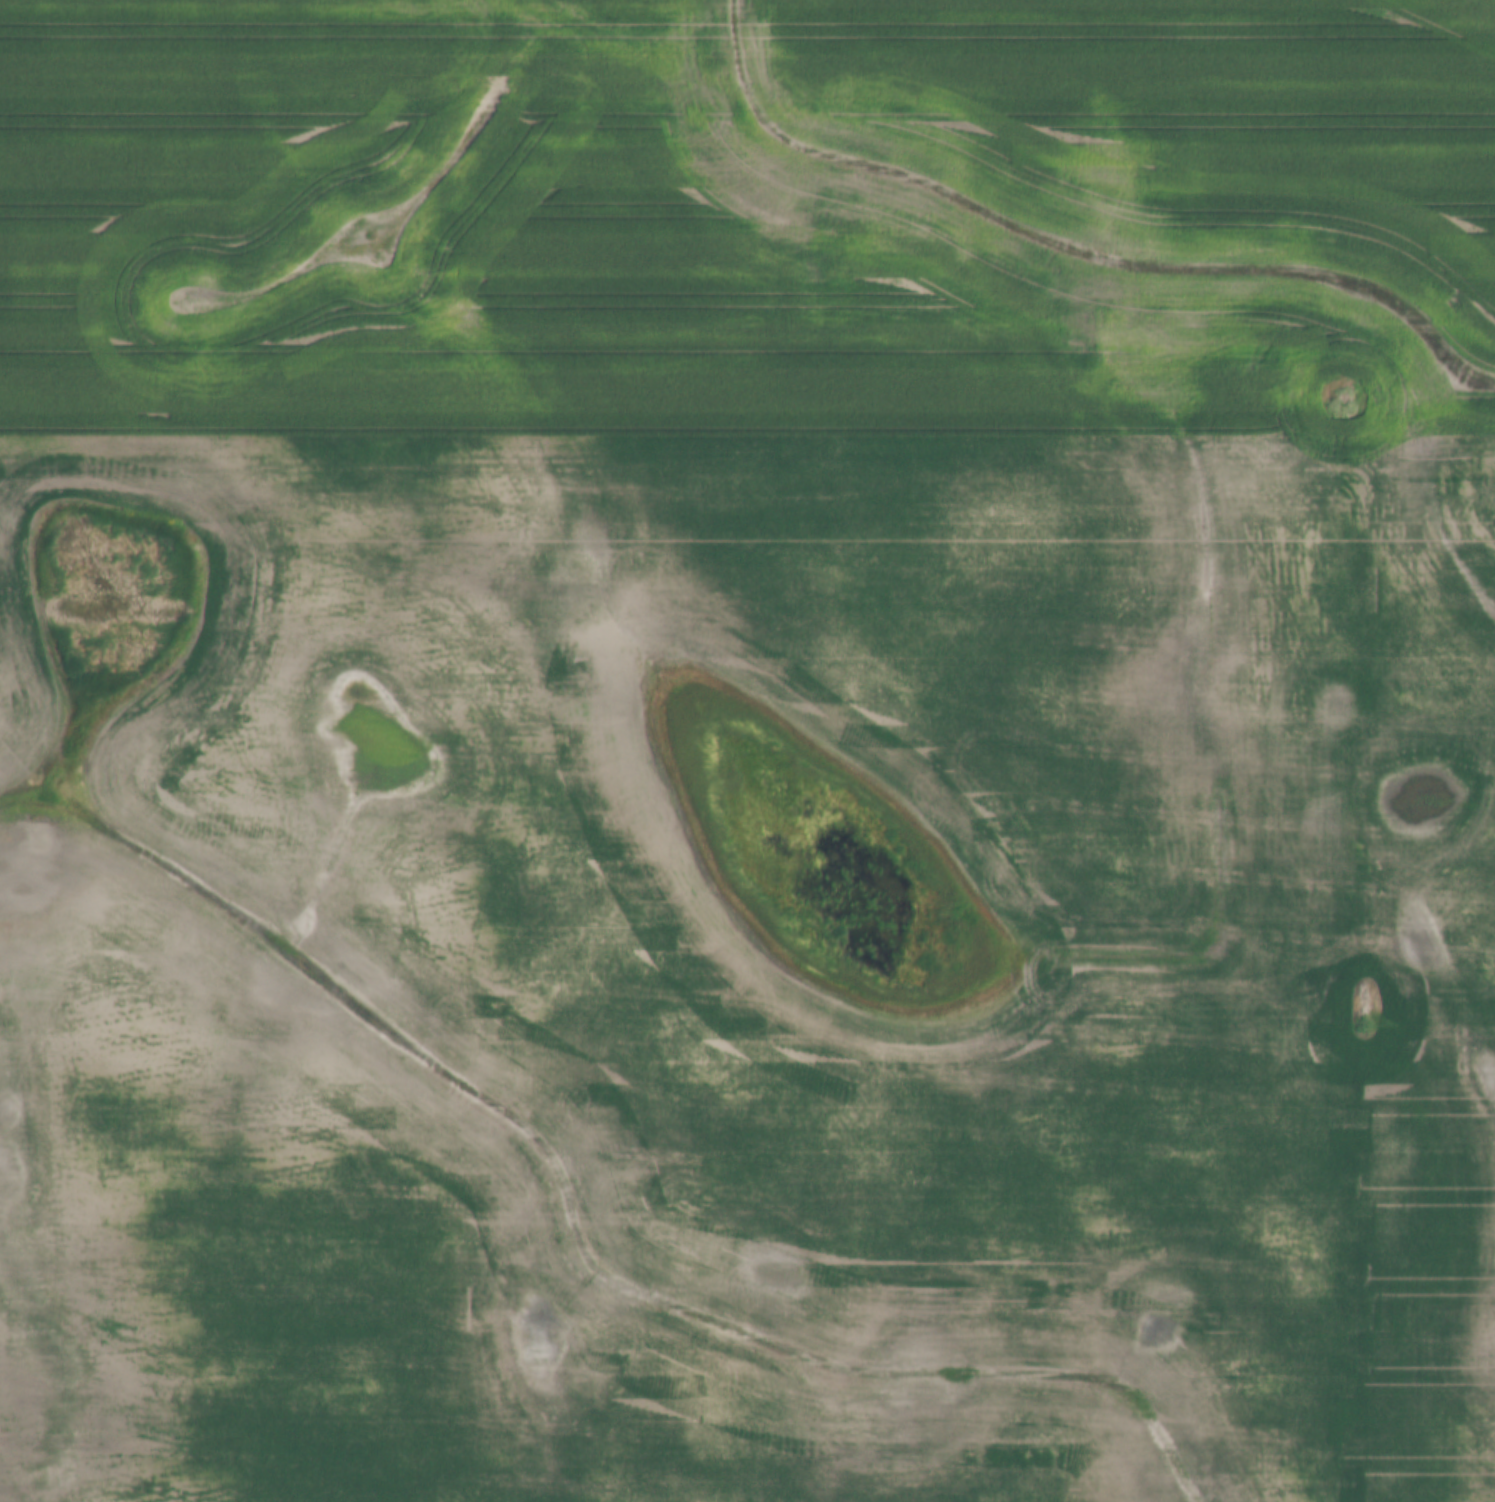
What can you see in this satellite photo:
road: (1367, 752)

